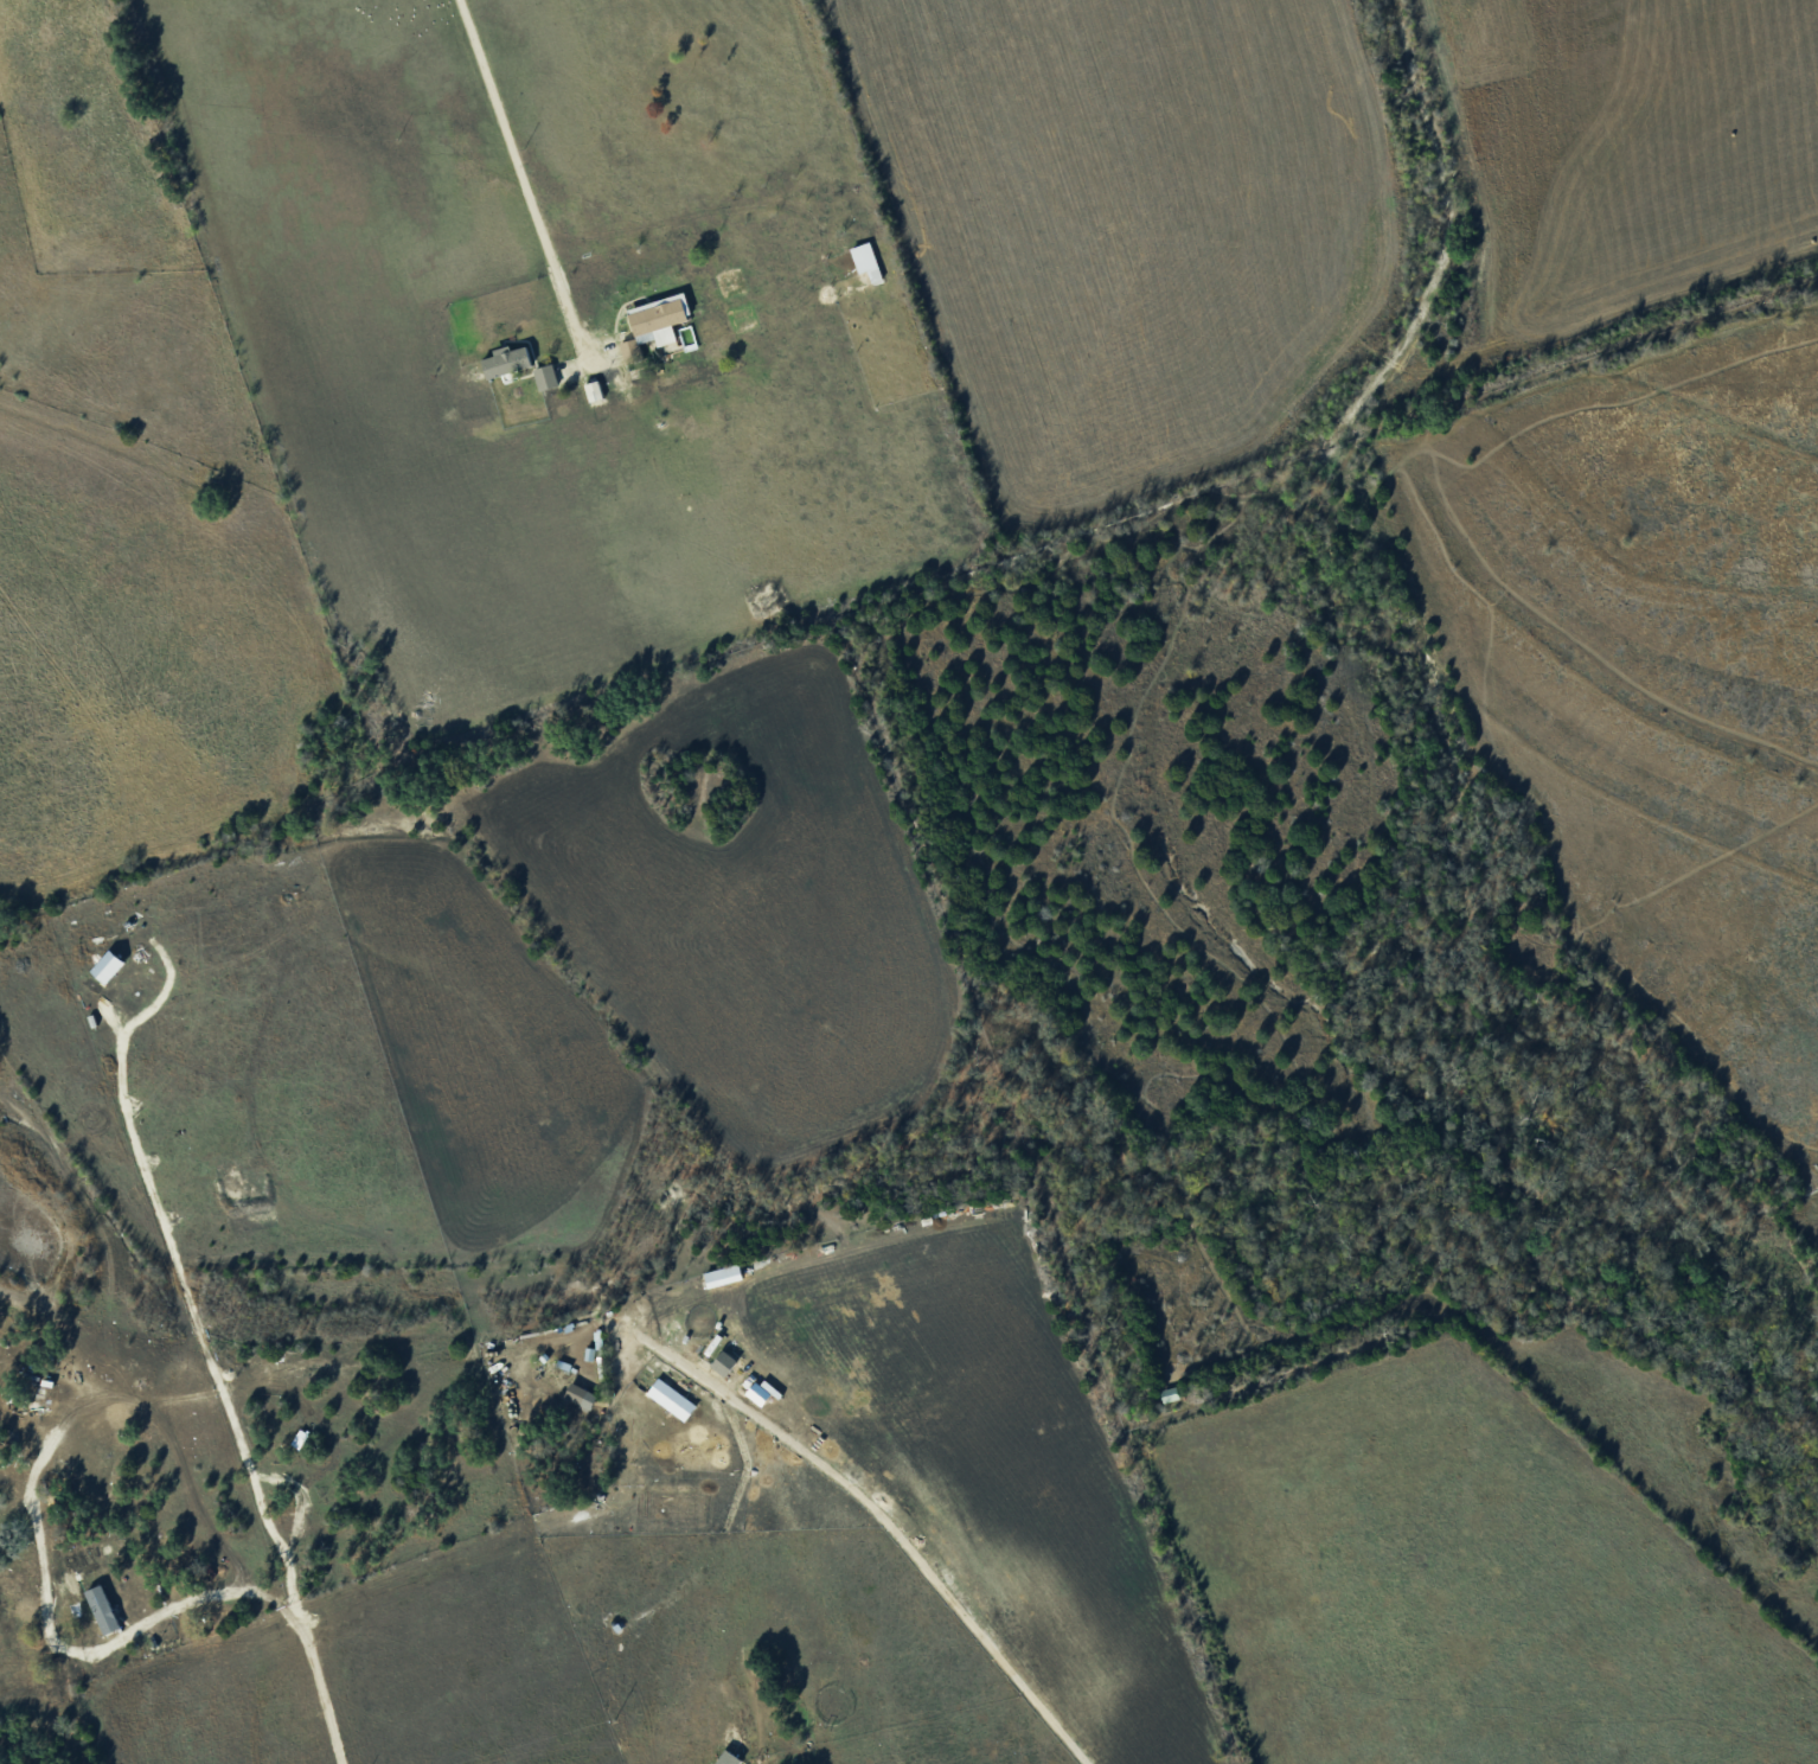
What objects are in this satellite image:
road: (527, 173)
building: (866, 260)
building: (654, 322)
building: (507, 359)
building: (545, 376)
building: (593, 390)
building: (108, 965)
building: (723, 1274)
building: (725, 1362)
building: (758, 1393)
building: (580, 1395)
building: (671, 1398)
road: (907, 1532)
building: (103, 1609)
building: (722, 1759)

